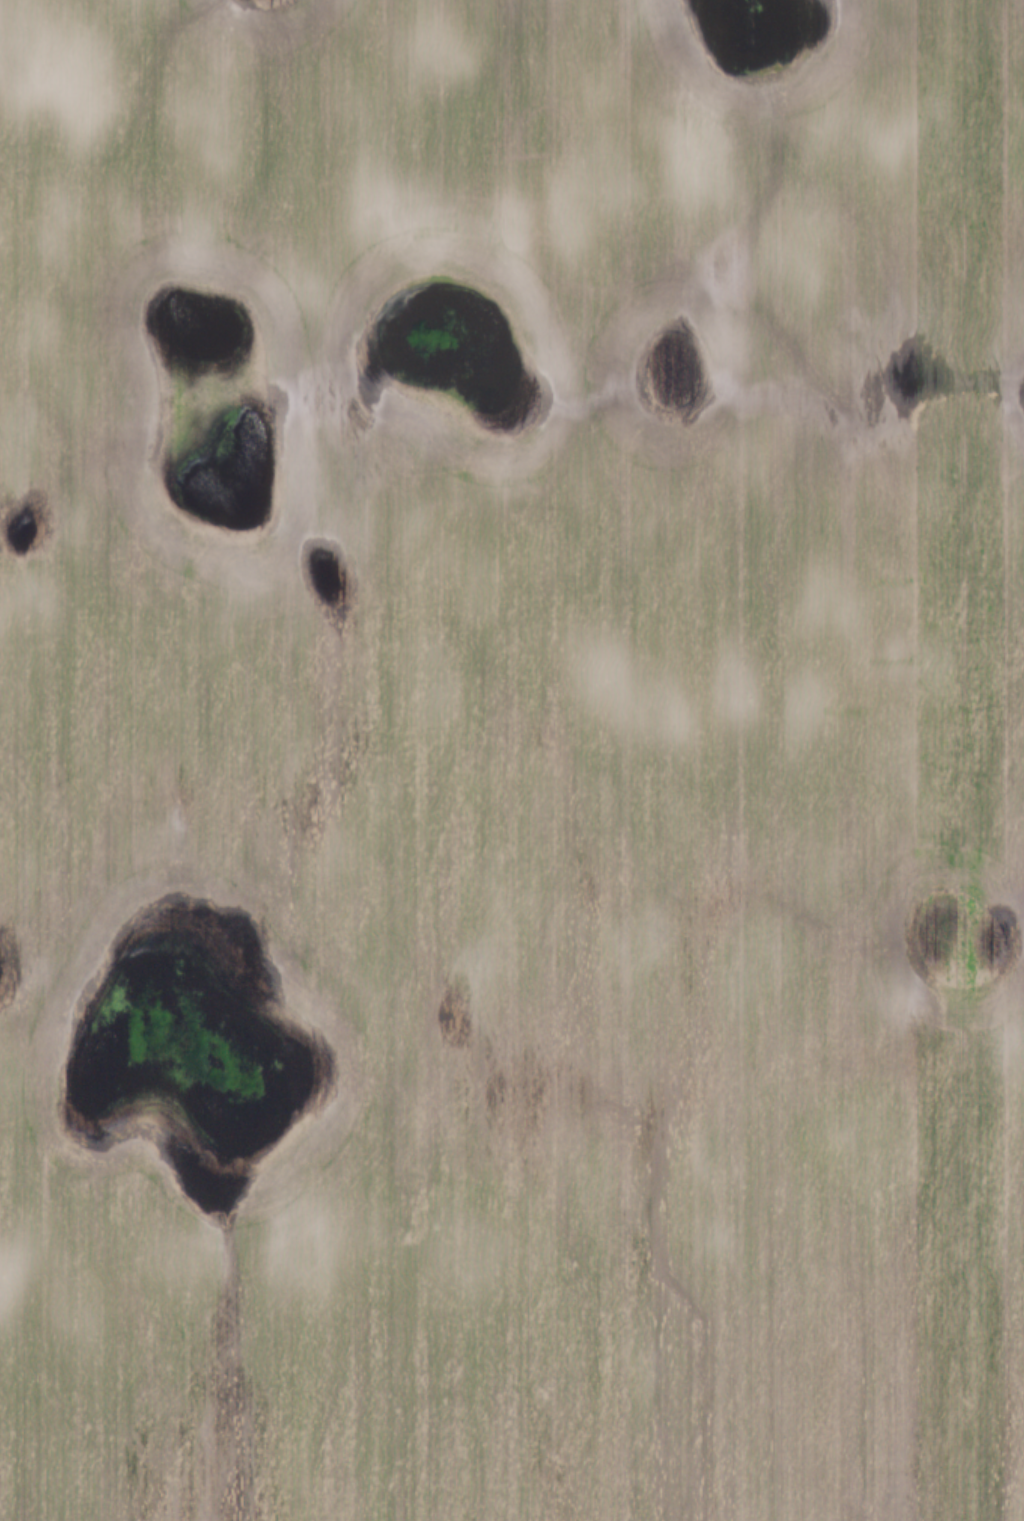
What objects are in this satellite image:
road: (956, 455)

